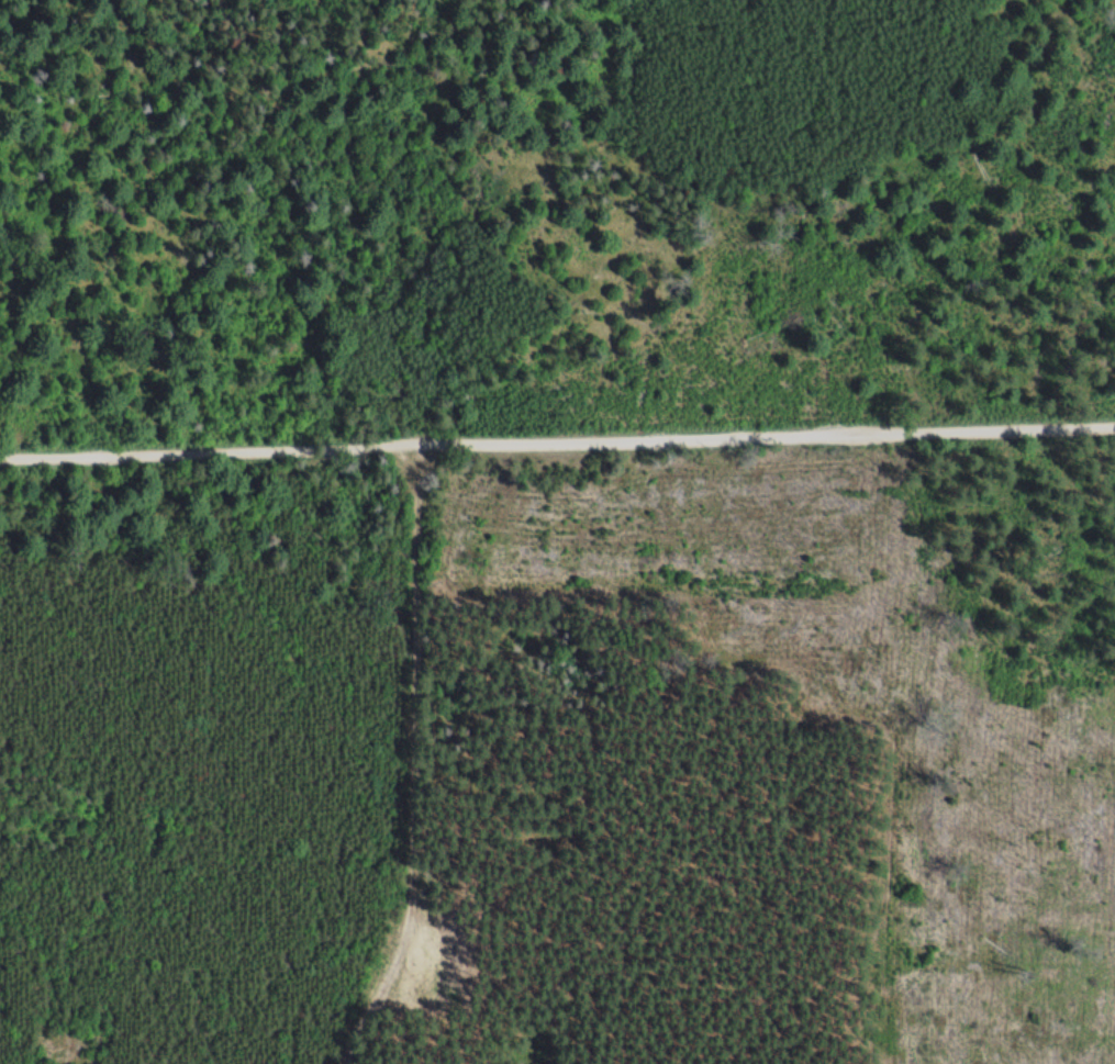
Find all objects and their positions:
road: (570, 235)
road: (557, 443)
road: (428, 763)

